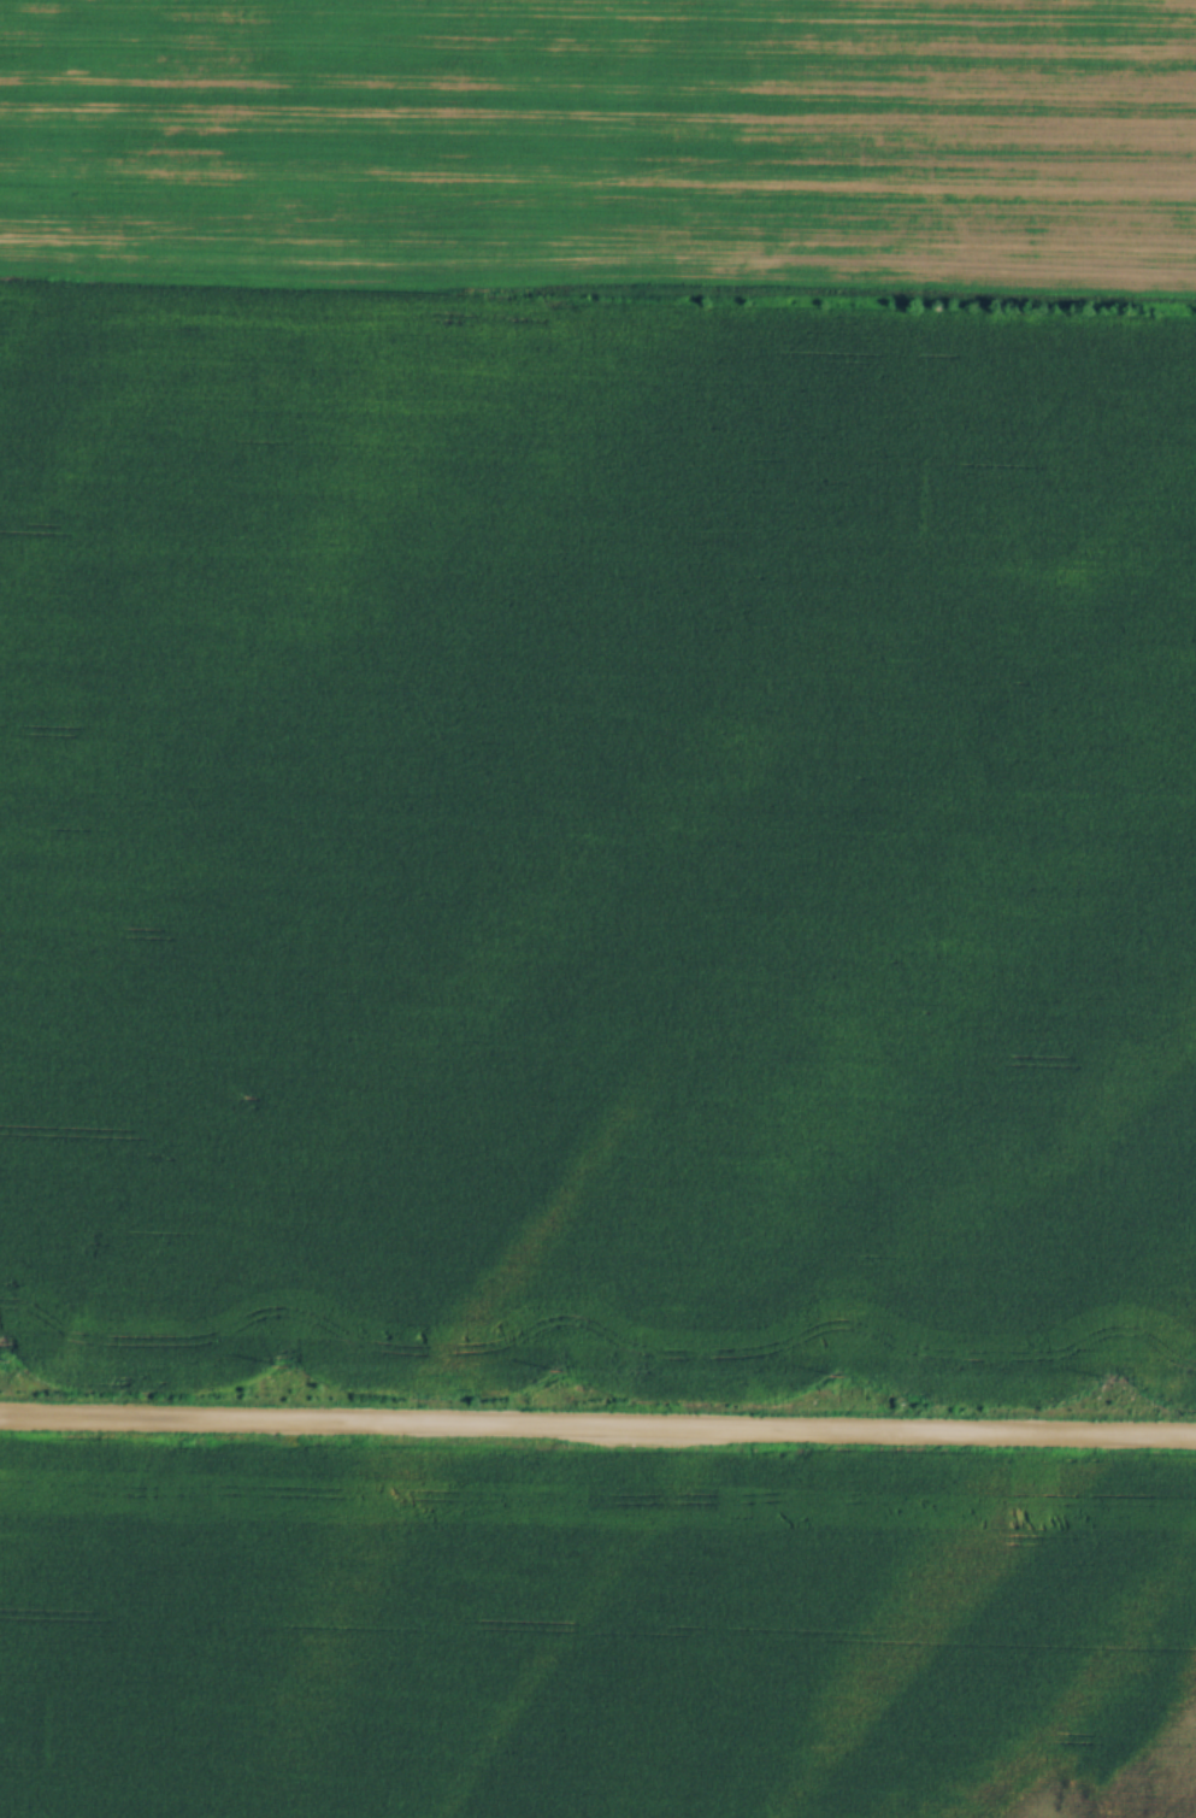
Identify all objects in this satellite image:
road: (597, 1428)

